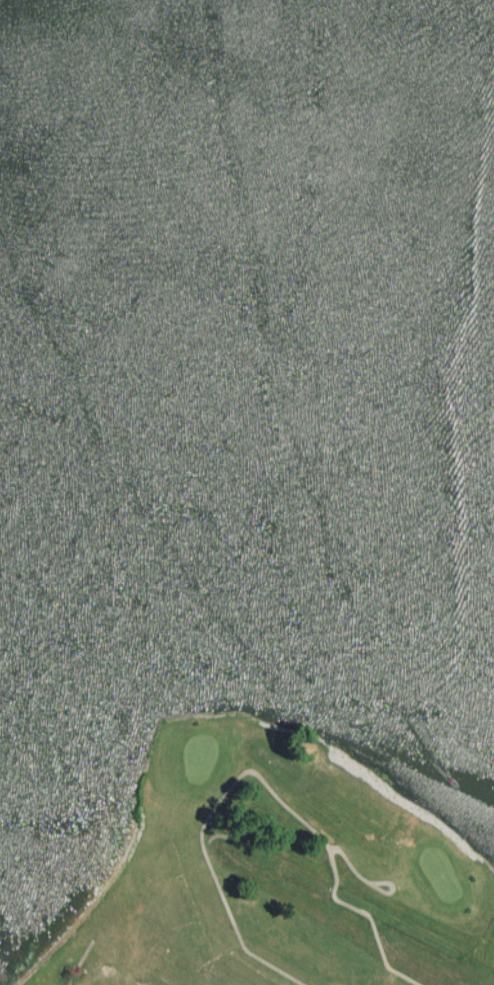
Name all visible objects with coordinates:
park: (203, 760)
road: (262, 778)
park: (275, 874)
park: (445, 877)
road: (372, 885)

